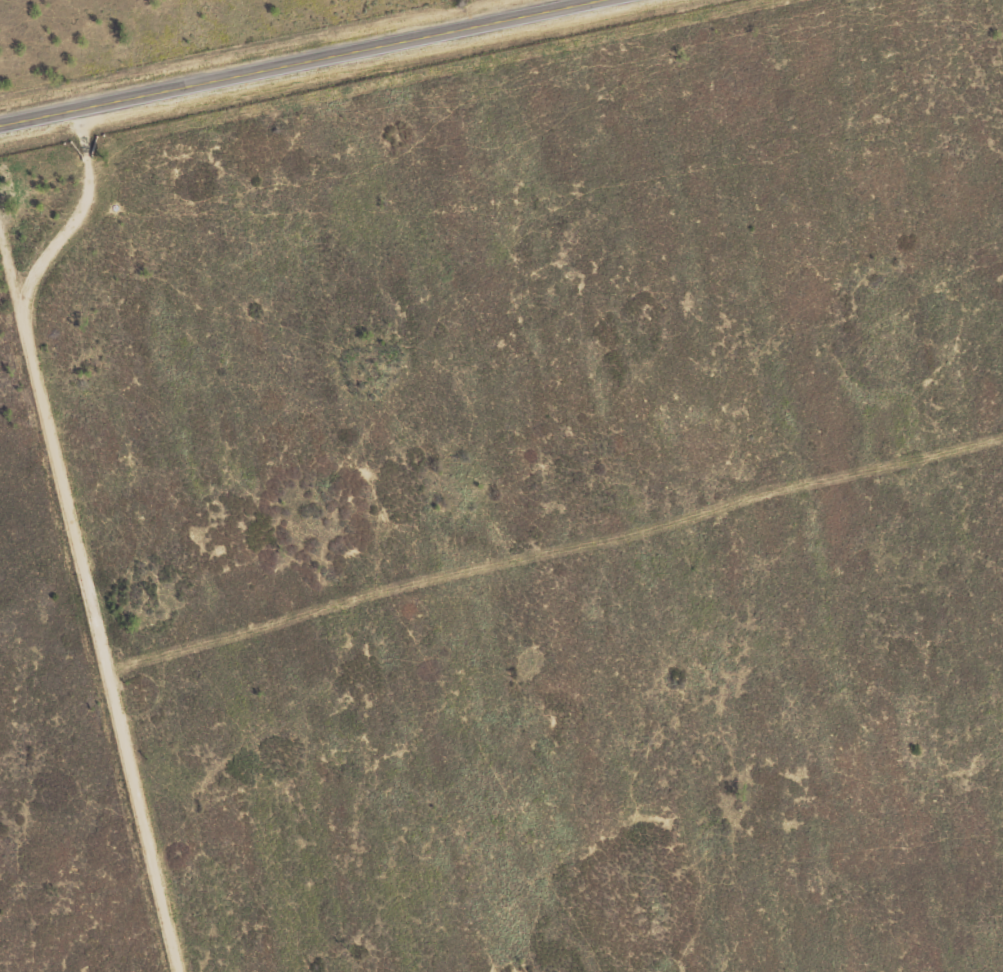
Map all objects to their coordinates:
road: (330, 71)
road: (124, 550)

